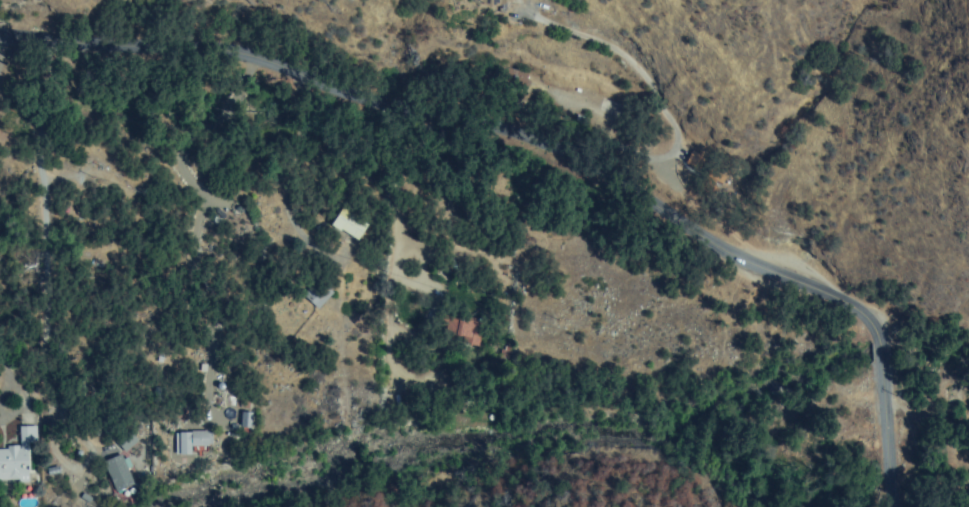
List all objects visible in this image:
building: (489, 2)
road: (603, 117)
road: (668, 118)
road: (16, 128)
road: (547, 140)
road: (155, 199)
building: (349, 221)
road: (319, 227)
road: (388, 265)
building: (318, 296)
road: (650, 301)
building: (454, 330)
building: (244, 419)
river: (527, 425)
building: (198, 438)
building: (123, 440)
building: (176, 444)
building: (16, 457)
building: (116, 474)
river: (968, 506)

